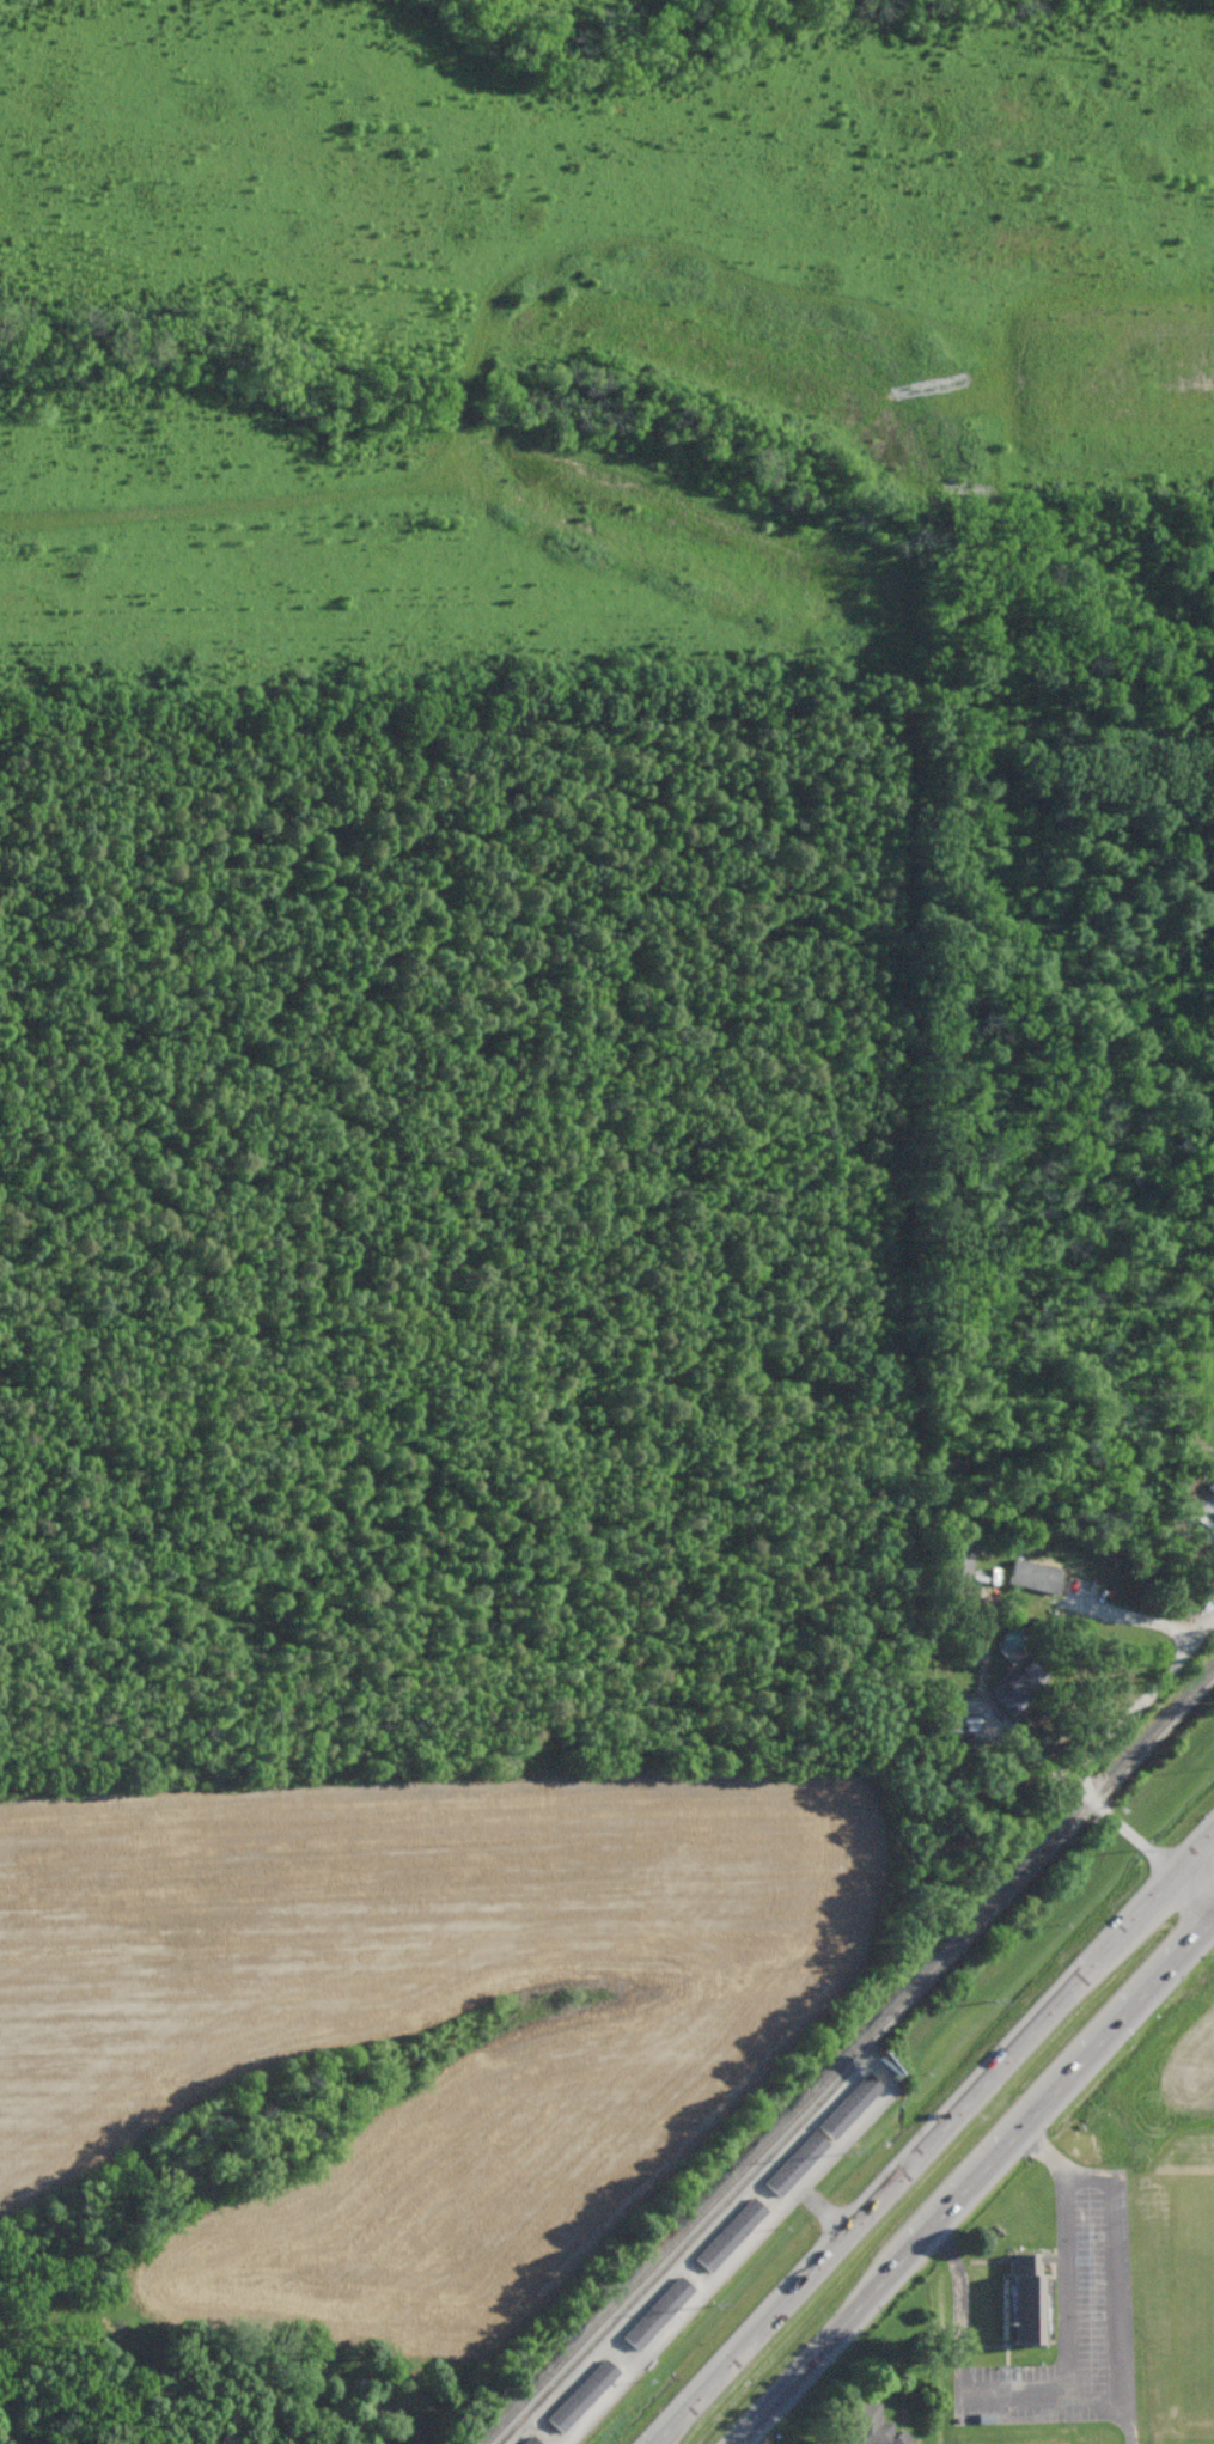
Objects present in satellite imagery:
building: (1212, 1486)
building: (959, 1562)
building: (1035, 1576)
road: (1141, 1616)
building: (1020, 1684)
building: (950, 1711)
road: (995, 1713)
road: (1104, 1750)
road: (1196, 1887)
road: (1068, 1989)
railway: (852, 2050)
road: (1069, 2074)
building: (849, 2107)
building: (795, 2164)
building: (730, 2235)
road: (1121, 2286)
road: (789, 2296)
building: (1026, 2299)
building: (658, 2312)
road: (829, 2338)
building: (582, 2395)
road: (1066, 2397)
road: (1097, 2400)
building: (874, 2426)
building: (527, 2442)

